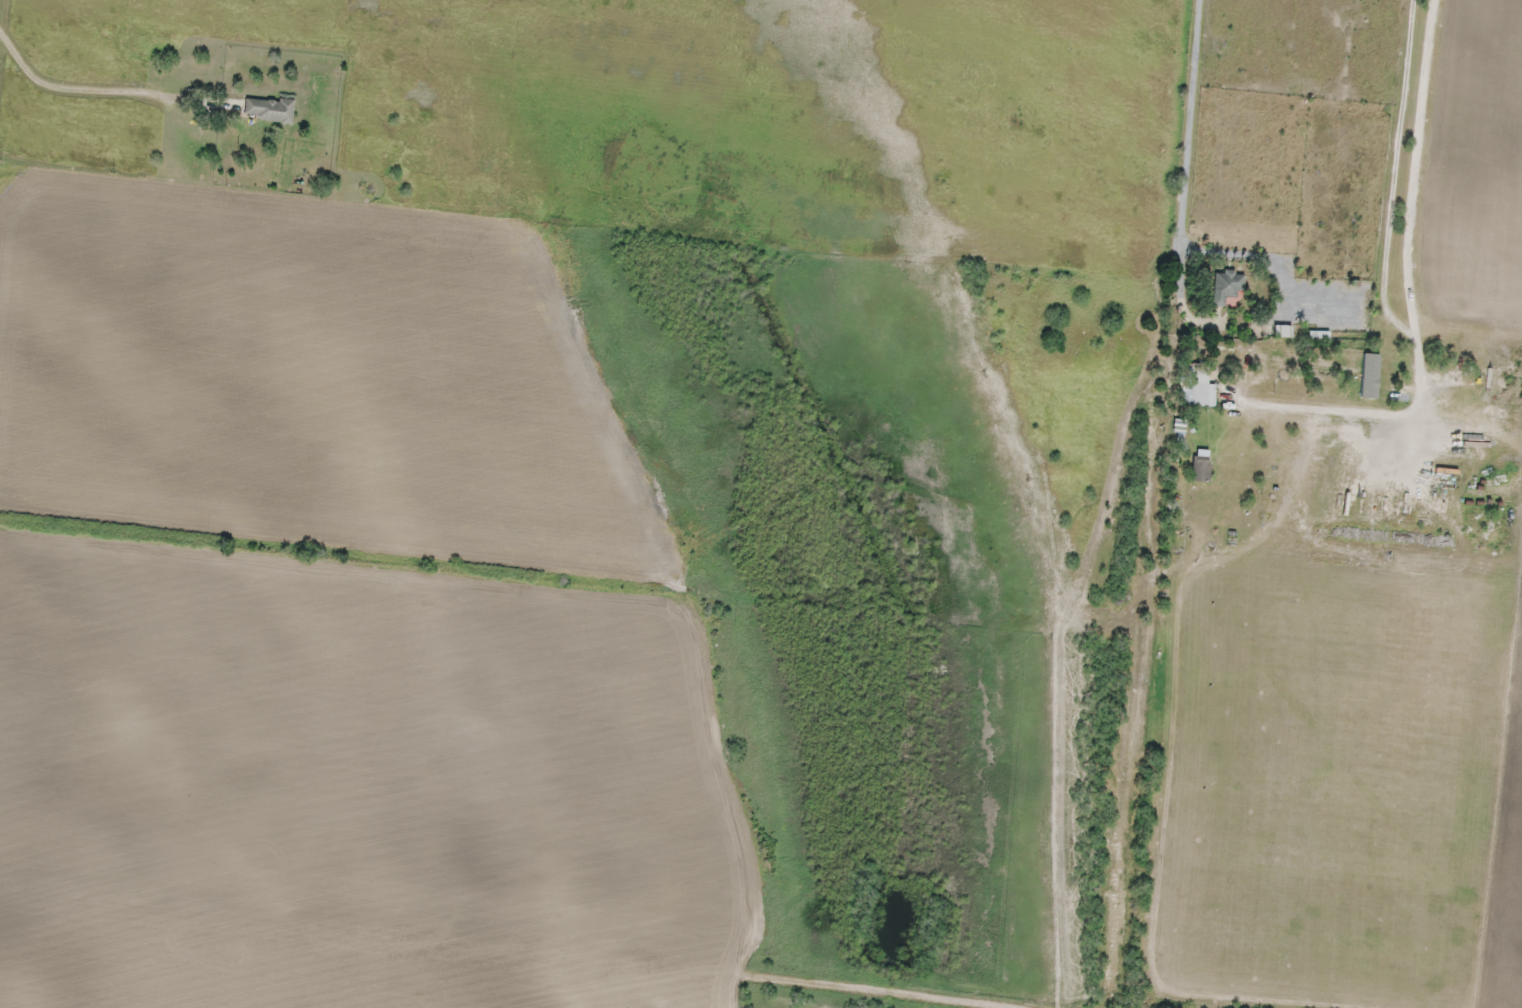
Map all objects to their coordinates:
building: (267, 108)
building: (1227, 287)
building: (1195, 384)
building: (1200, 464)
road: (711, 705)
road: (531, 944)

